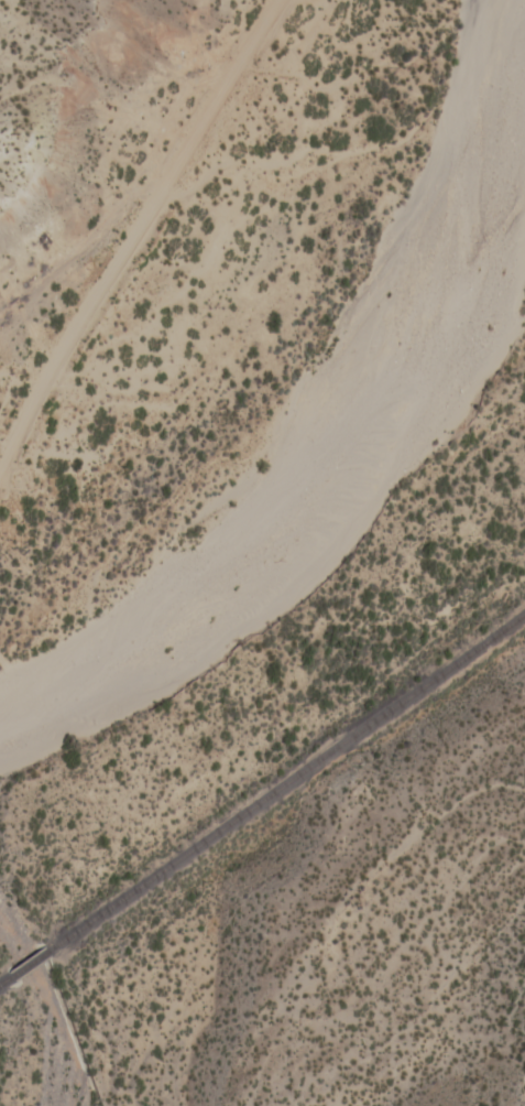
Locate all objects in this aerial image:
road: (134, 231)
river: (351, 431)
railway: (285, 781)
railway: (26, 966)
railway: (3, 983)

